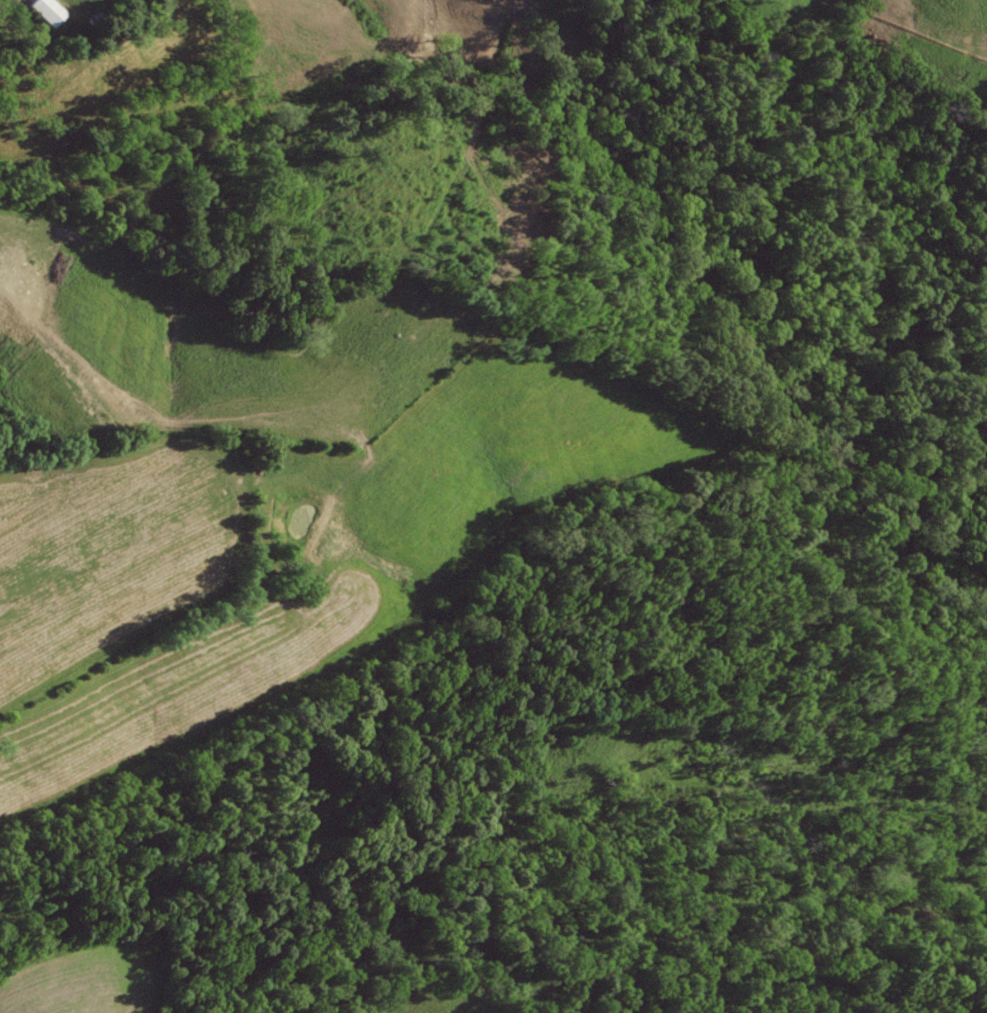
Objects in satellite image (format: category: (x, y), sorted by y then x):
building: (50, 11)

